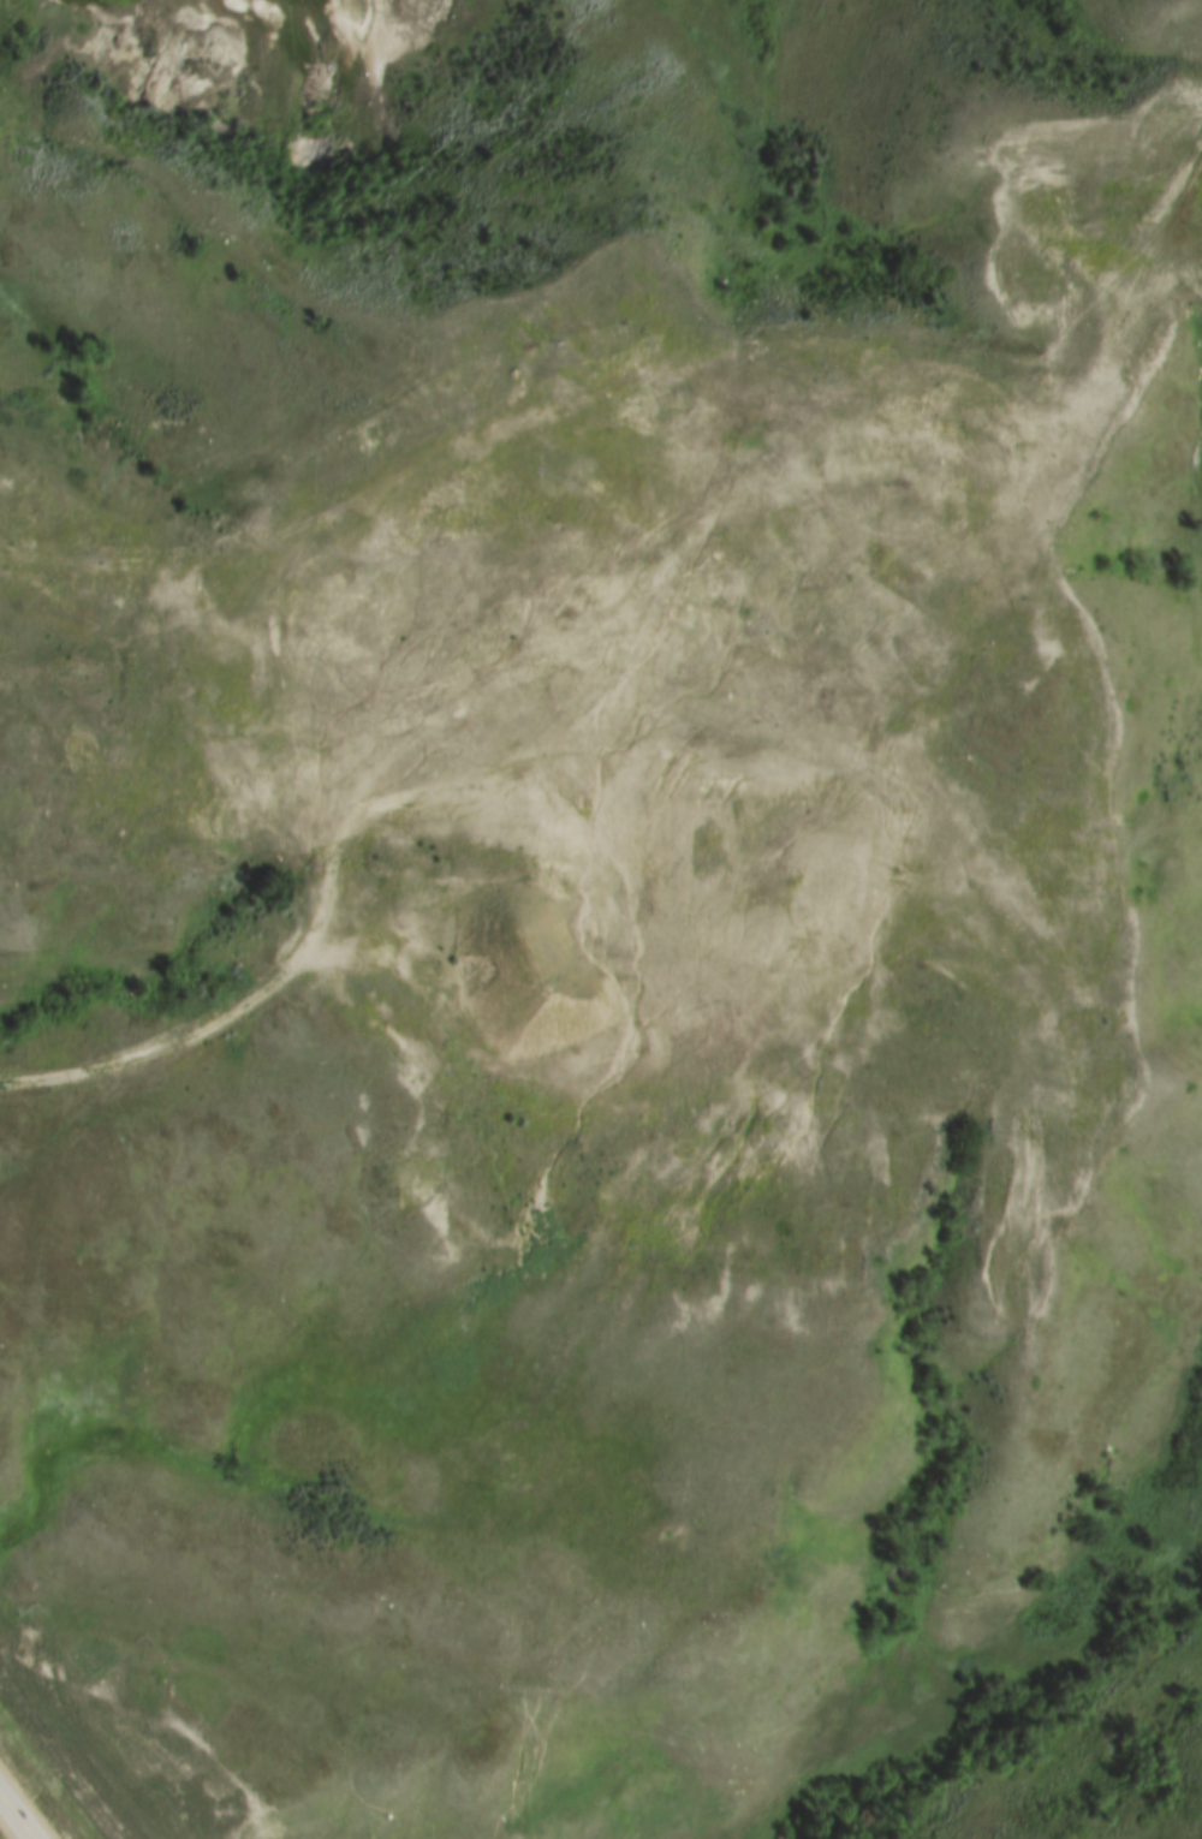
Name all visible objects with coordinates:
quarry: (625, 714)
road: (189, 1049)
road: (14, 1820)

